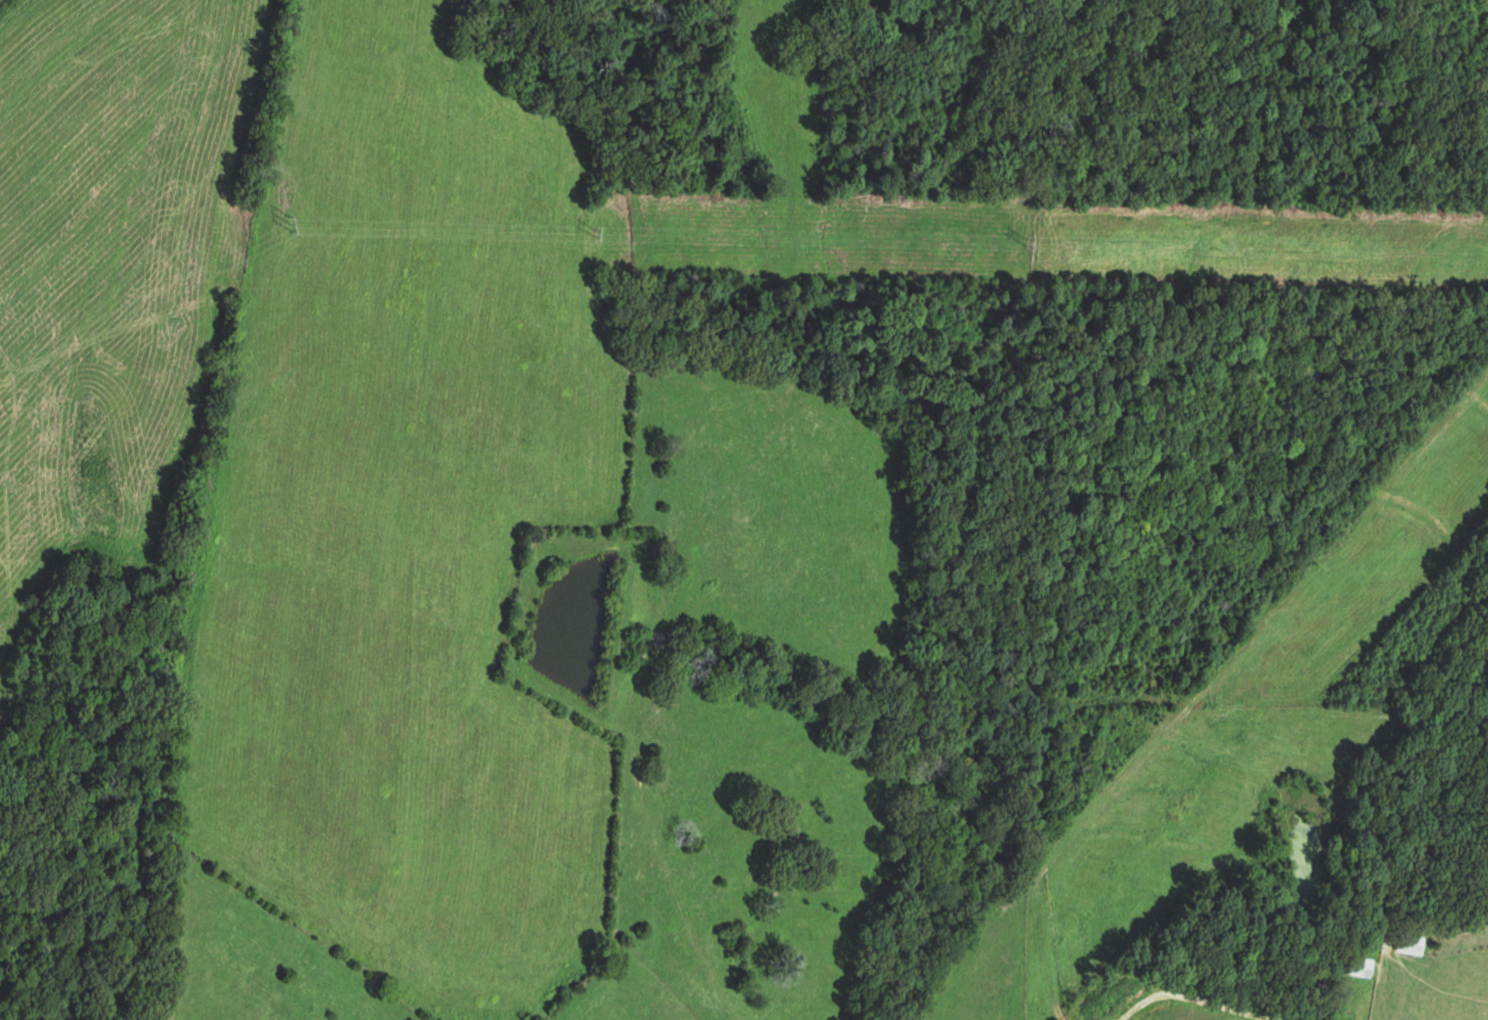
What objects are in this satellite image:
building: (1409, 944)
building: (1359, 966)

